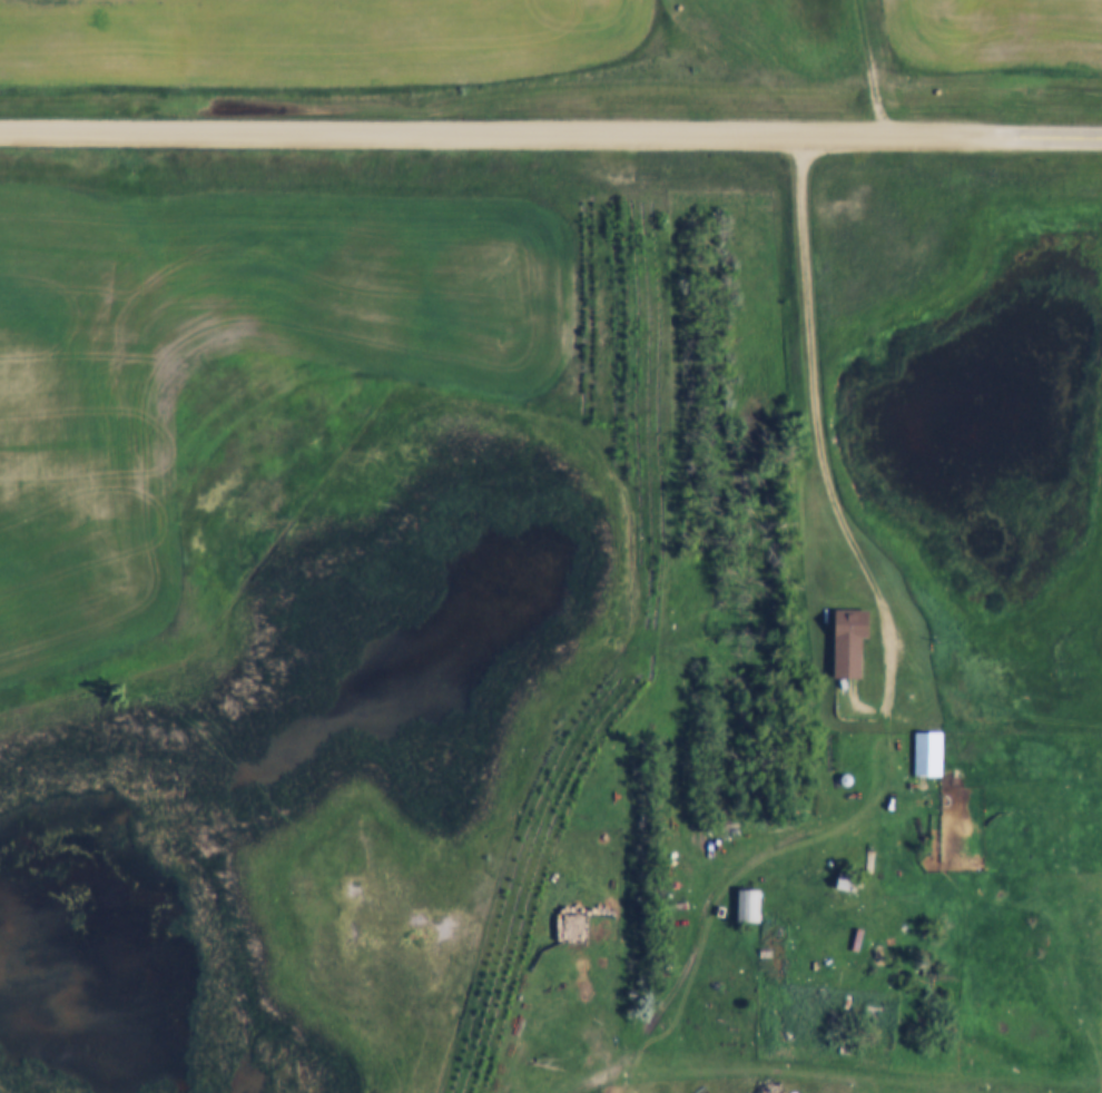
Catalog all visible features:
road: (494, 134)
road: (1046, 136)
road: (186, 185)
road: (816, 436)
building: (854, 640)
building: (929, 755)
building: (732, 833)
building: (847, 880)
building: (749, 905)
road: (545, 1090)

